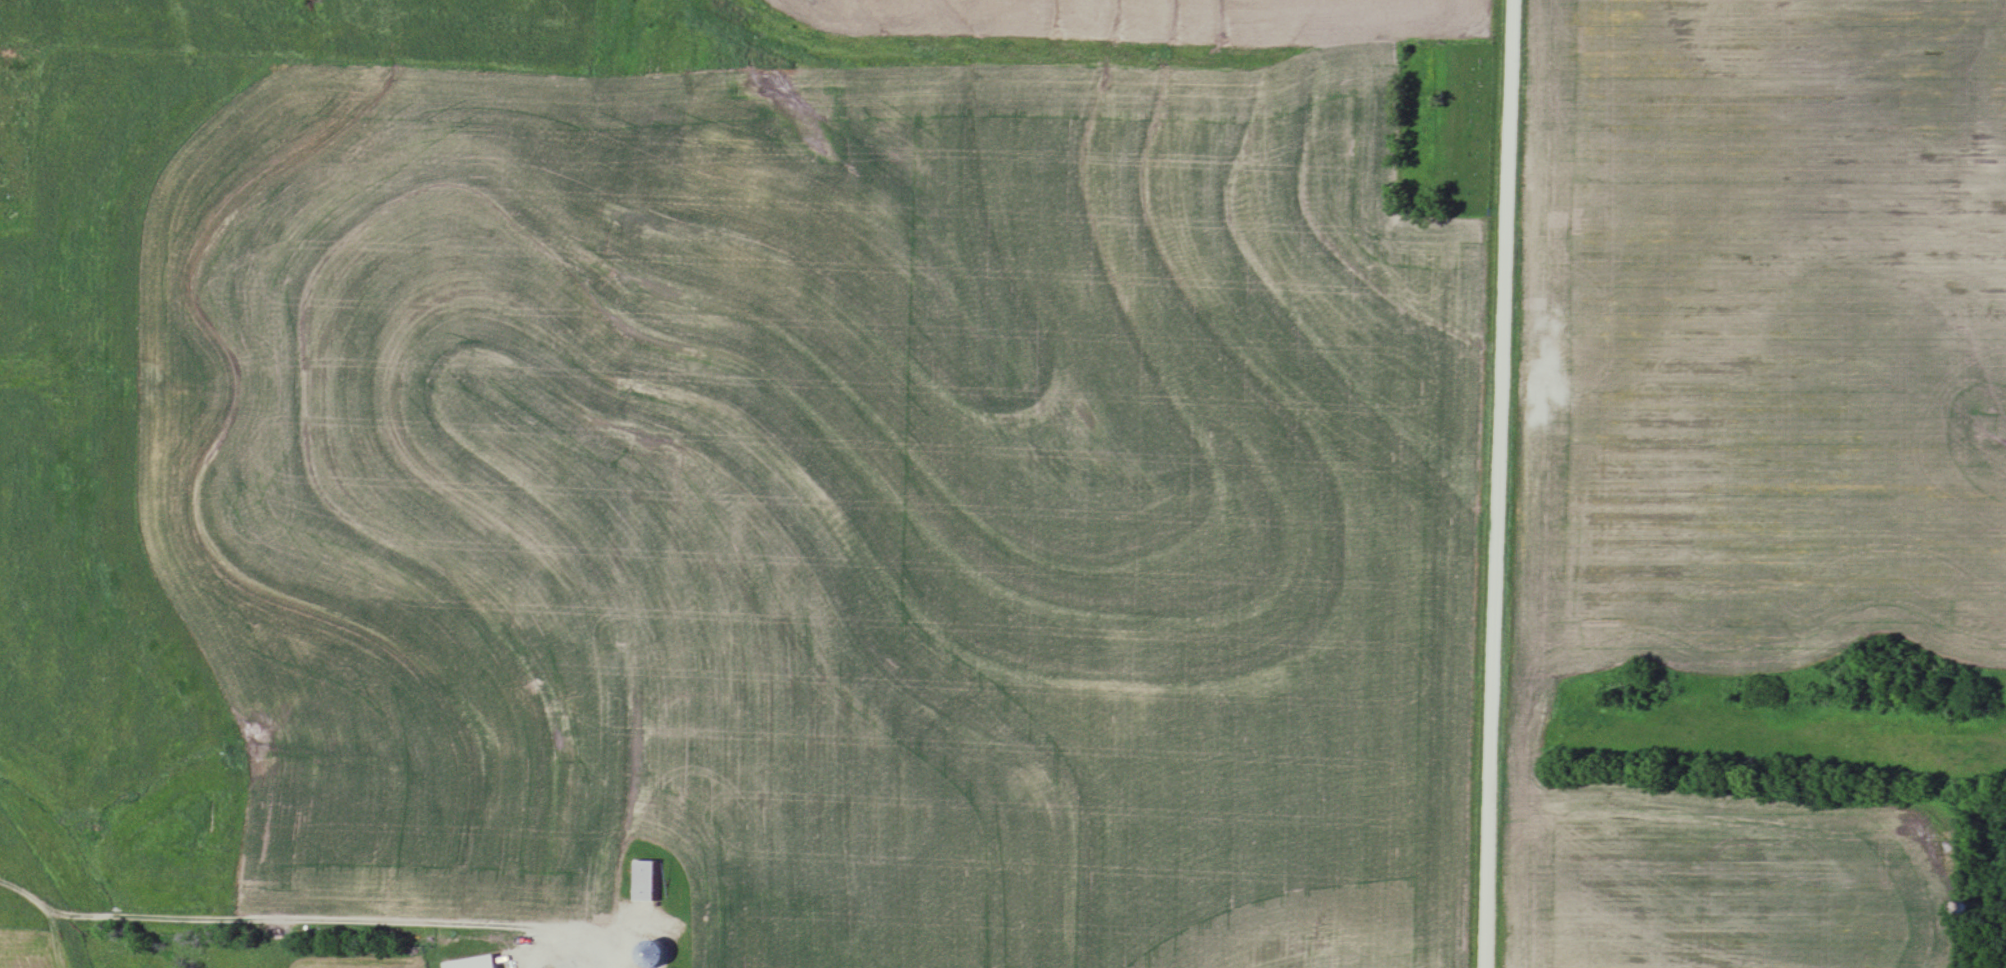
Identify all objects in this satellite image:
crop: (1167, 20)
road: (4, 103)
park: (1447, 128)
crop: (1750, 444)
road: (628, 482)
road: (1498, 483)
crop: (754, 502)
building: (648, 882)
road: (301, 920)
road: (576, 954)
building: (651, 956)
crop: (337, 959)
building: (475, 963)

